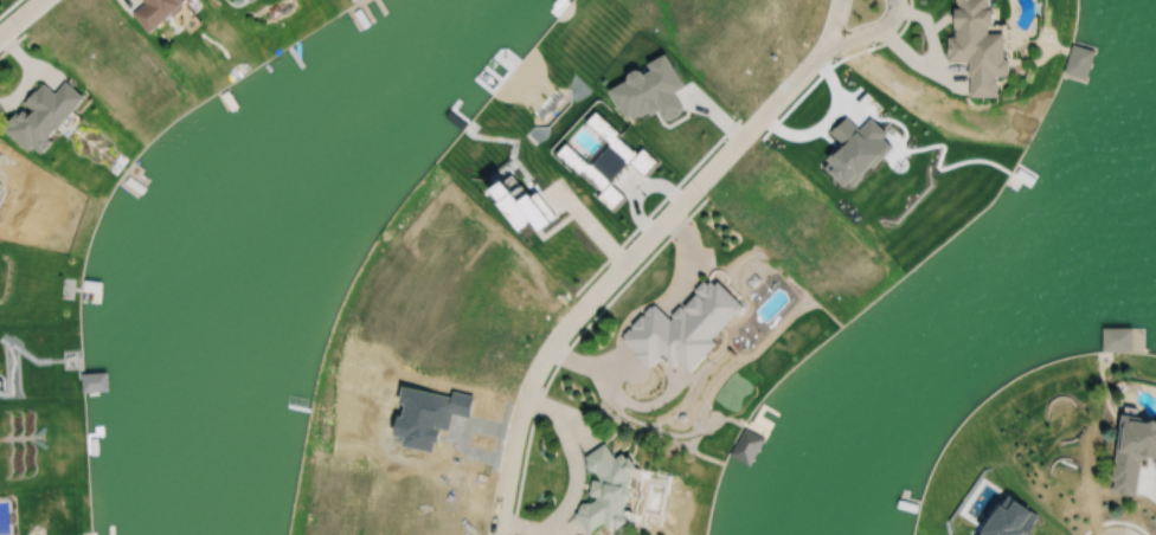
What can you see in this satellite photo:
building: (154, 11)
road: (17, 14)
building: (974, 46)
building: (1077, 62)
building: (238, 96)
building: (38, 116)
building: (518, 210)
road: (640, 238)
building: (679, 329)
building: (1131, 452)
building: (603, 492)

